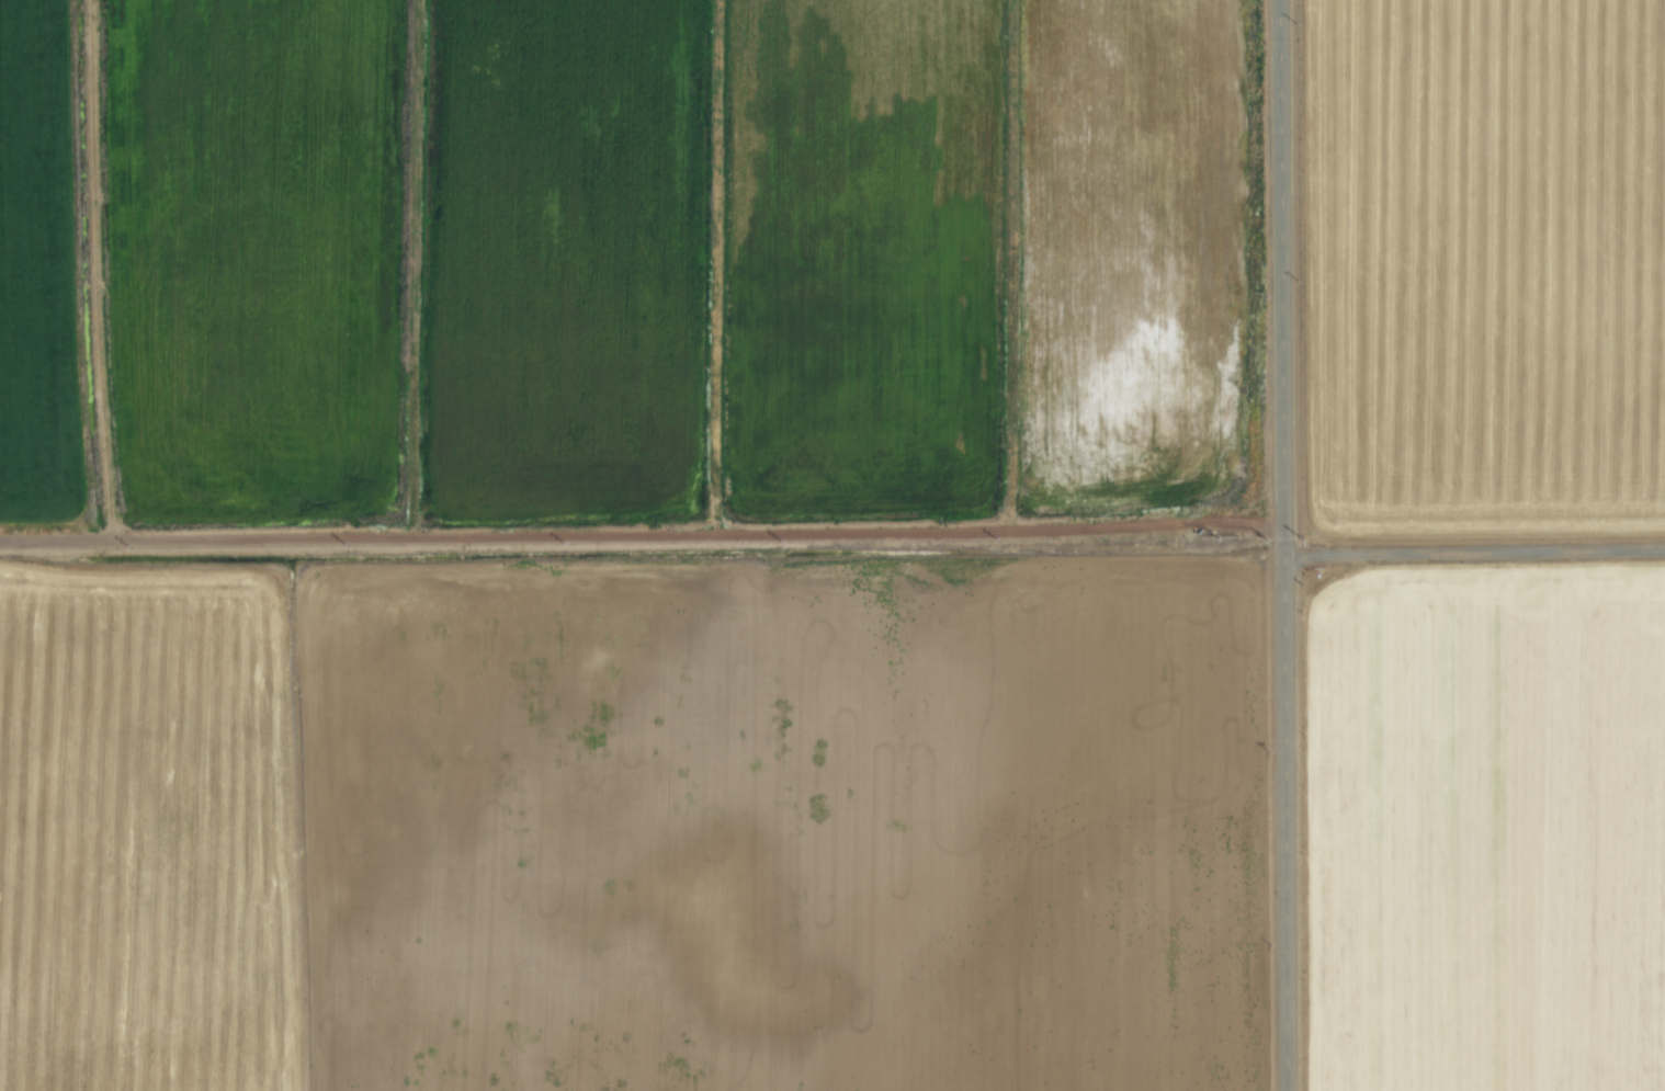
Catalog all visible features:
road: (1273, 545)

